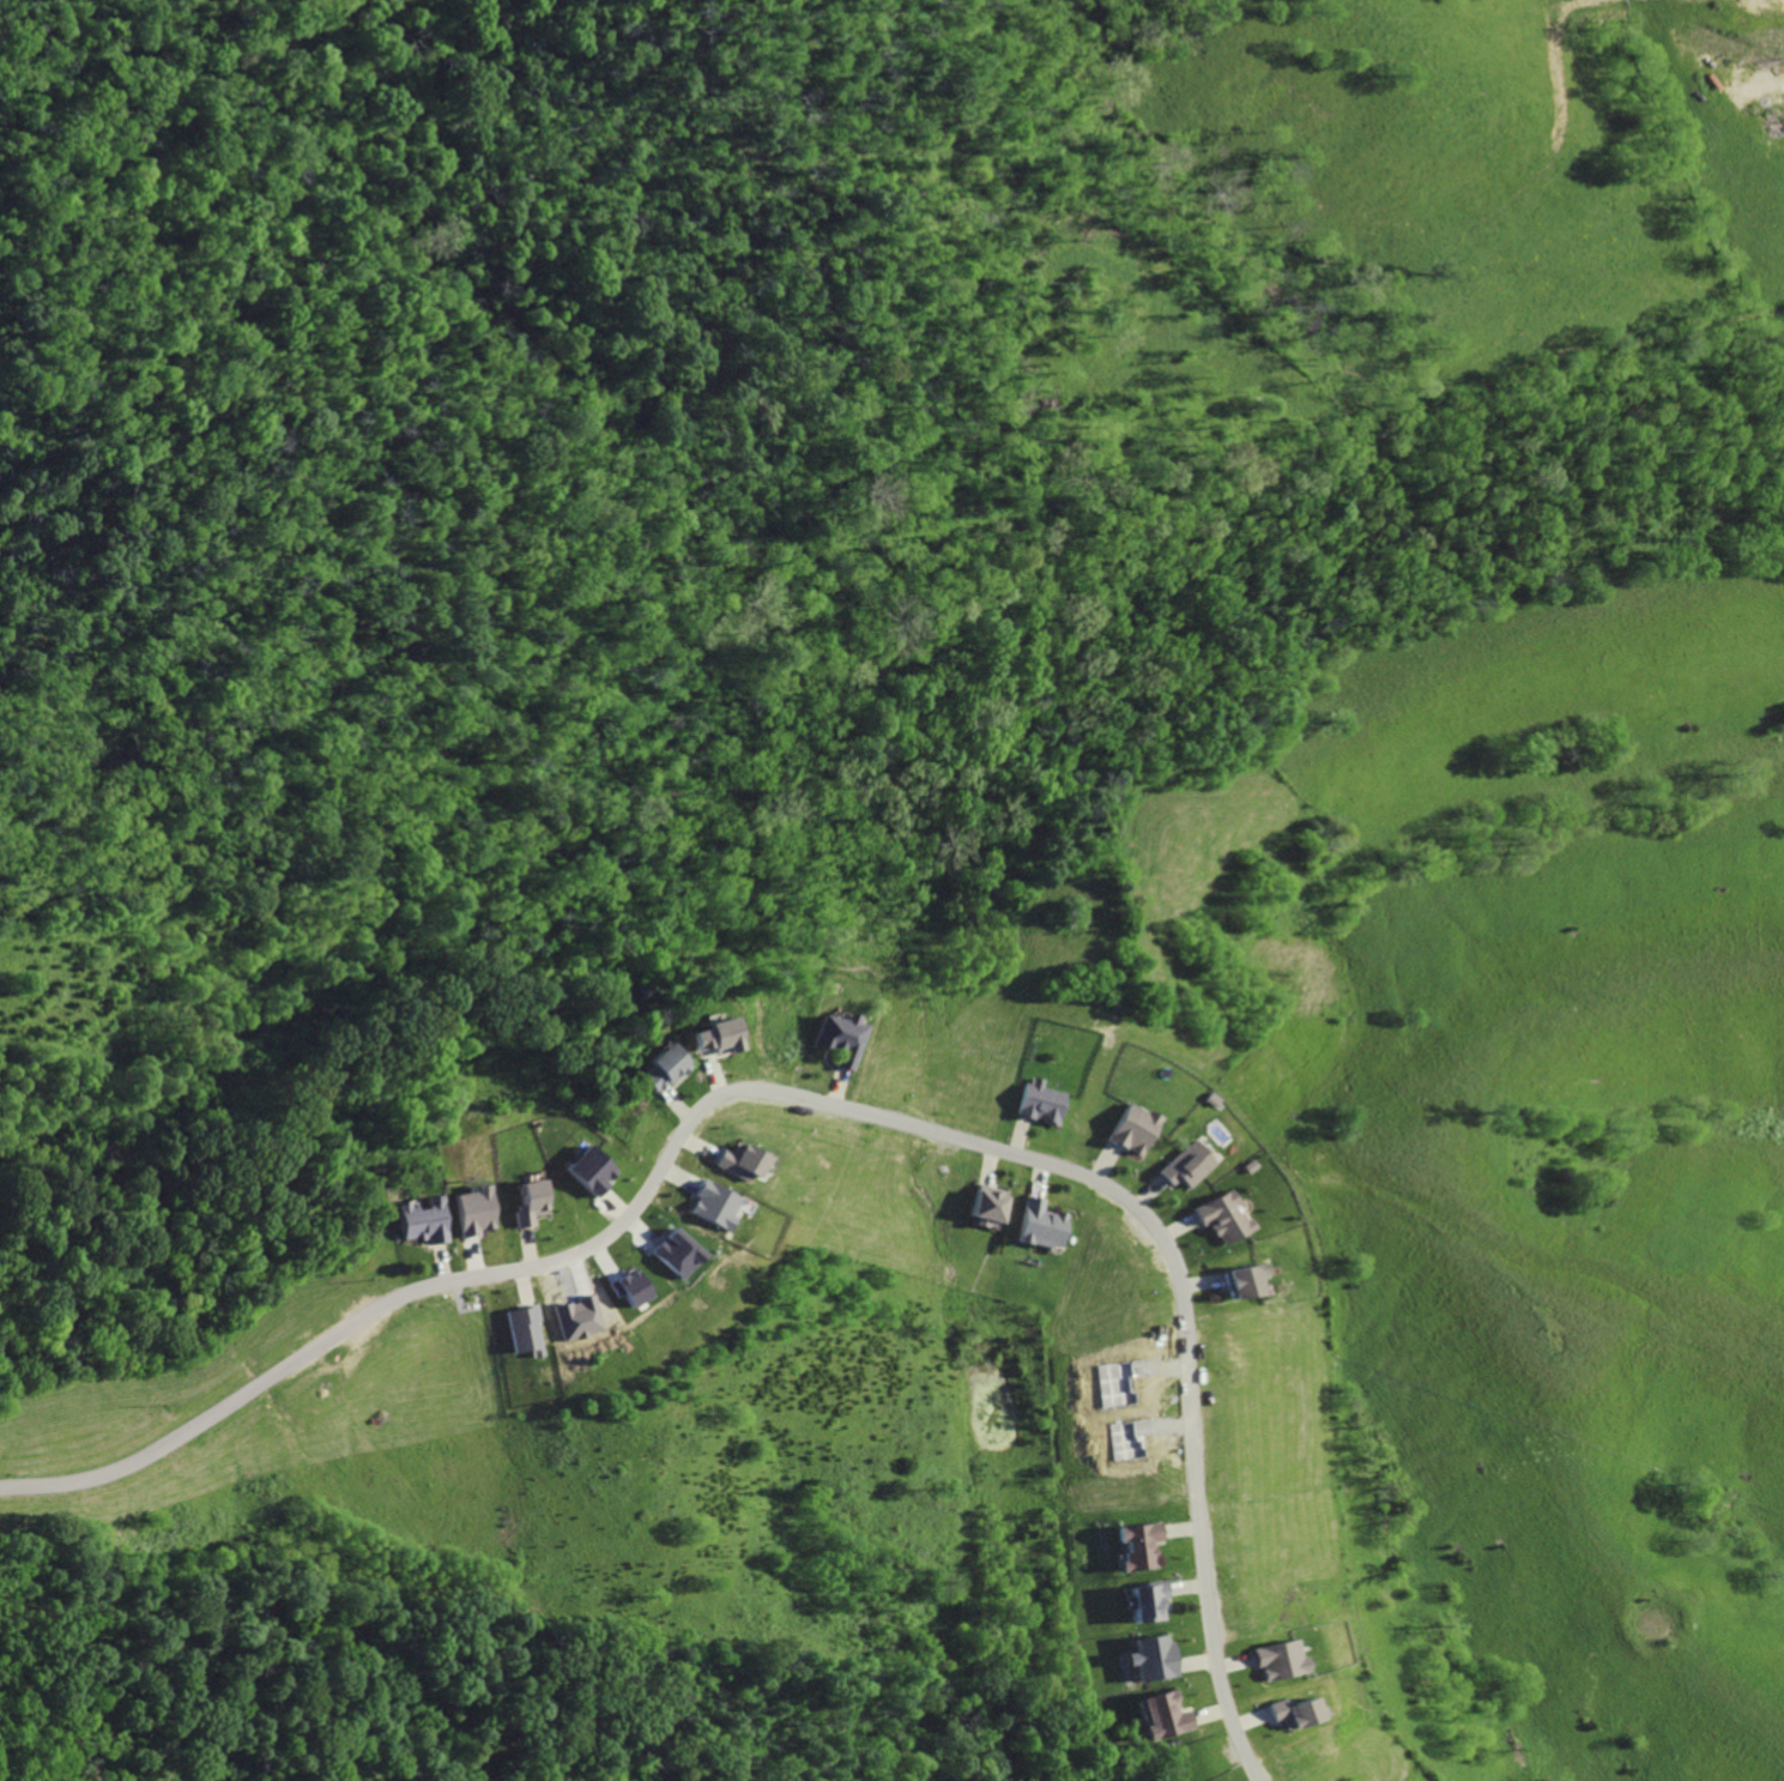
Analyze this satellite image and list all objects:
building: (835, 1036)
building: (713, 1037)
building: (663, 1068)
building: (1039, 1100)
road: (808, 1101)
building: (1135, 1130)
building: (739, 1163)
building: (1186, 1166)
building: (586, 1172)
building: (526, 1202)
building: (986, 1205)
building: (715, 1206)
building: (470, 1213)
building: (1220, 1219)
building: (422, 1222)
building: (1040, 1225)
building: (678, 1254)
building: (1234, 1282)
building: (522, 1330)
building: (1137, 1546)
building: (1144, 1602)
building: (1153, 1654)
building: (1274, 1661)
building: (1288, 1713)
building: (1165, 1715)

